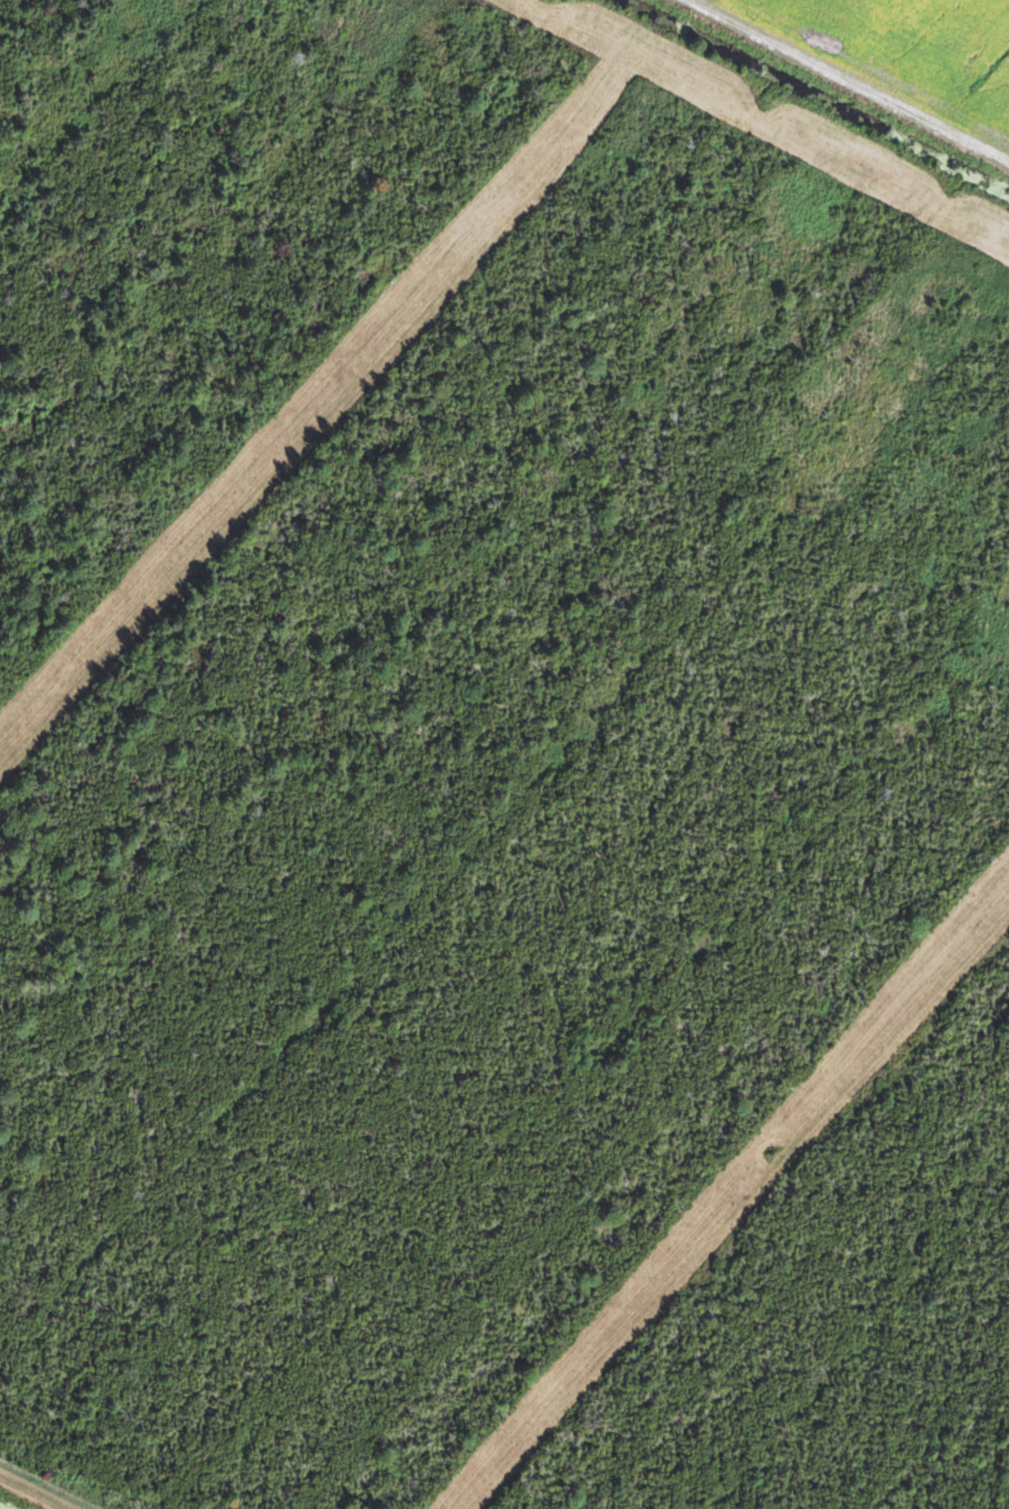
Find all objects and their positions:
crop: (909, 50)
road: (841, 84)
road: (35, 1490)

